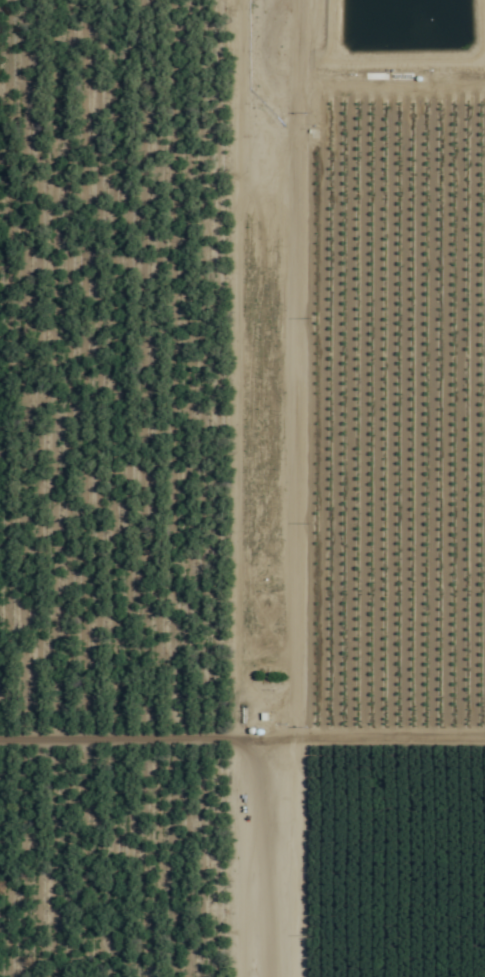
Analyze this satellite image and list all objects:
road: (267, 488)
road: (242, 739)

